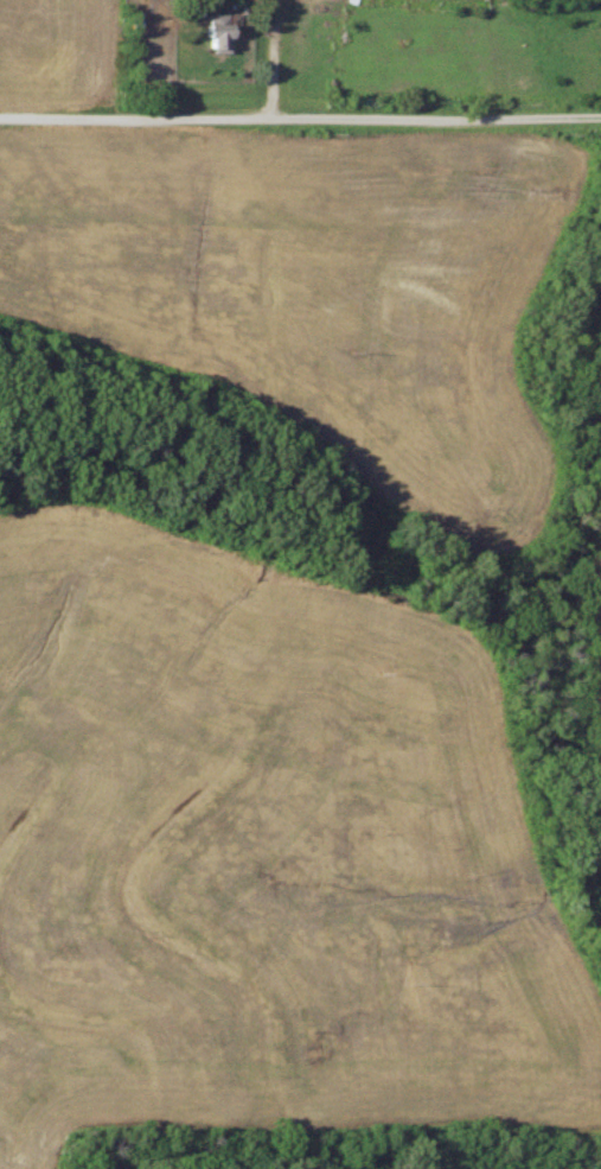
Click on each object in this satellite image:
building: (215, 33)
road: (274, 58)
road: (300, 117)

